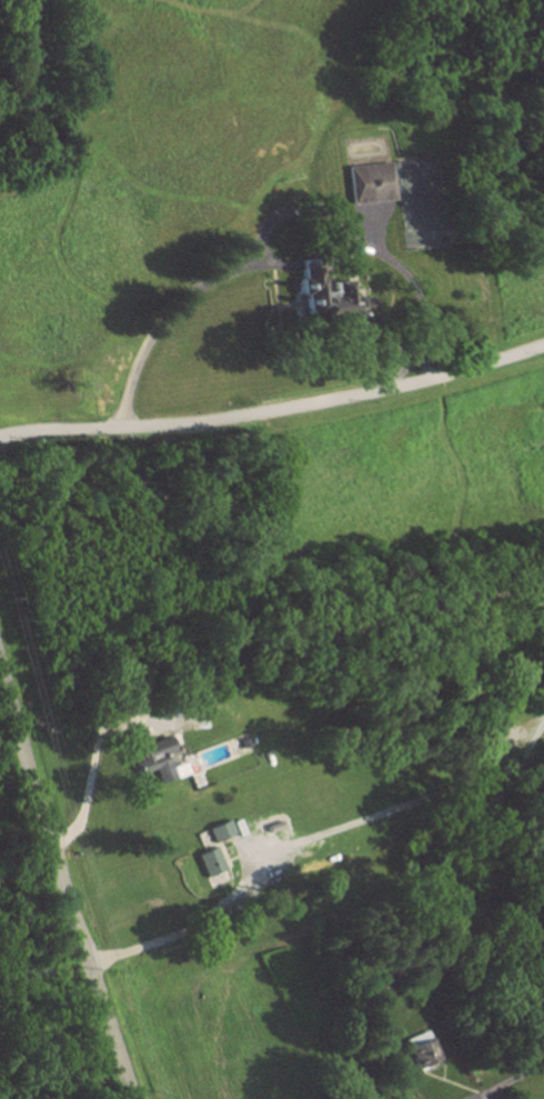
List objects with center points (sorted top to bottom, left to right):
park: (422, 200)
road: (265, 226)
building: (326, 300)
road: (422, 366)
road: (403, 369)
road: (274, 408)
building: (147, 755)
road: (91, 780)
building: (216, 830)
road: (316, 833)
building: (206, 861)
road: (69, 880)
building: (415, 1052)
road: (517, 1069)
road: (476, 1091)
road: (487, 1091)

